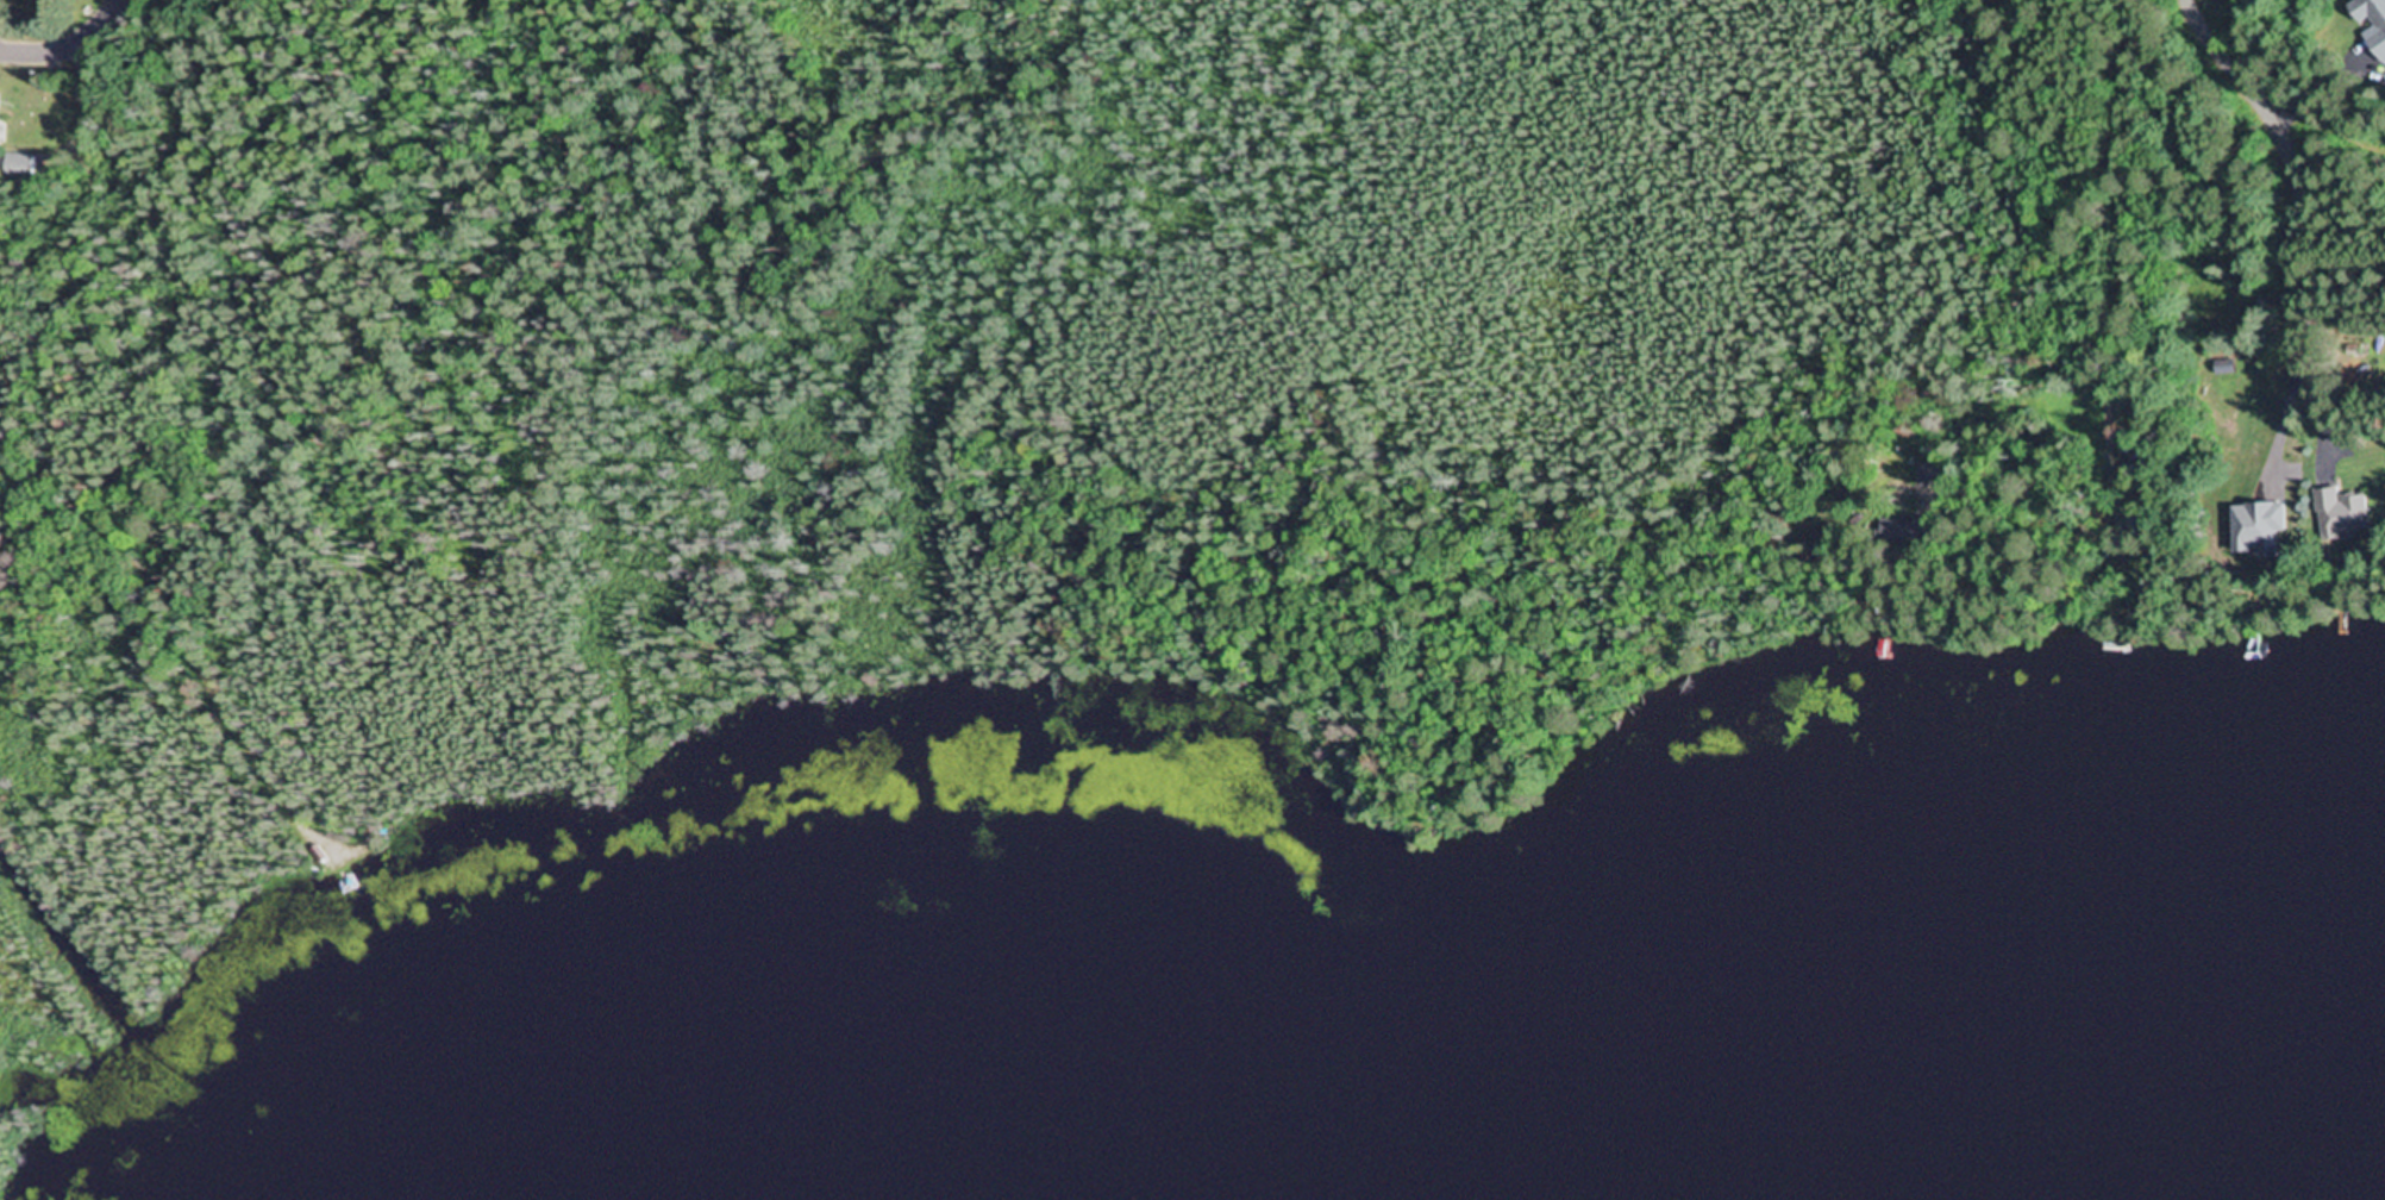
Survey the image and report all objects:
building: (2371, 25)
road: (65, 39)
road: (2297, 68)
road: (2297, 173)
building: (2353, 351)
building: (1929, 473)
building: (2337, 517)
building: (1908, 530)

